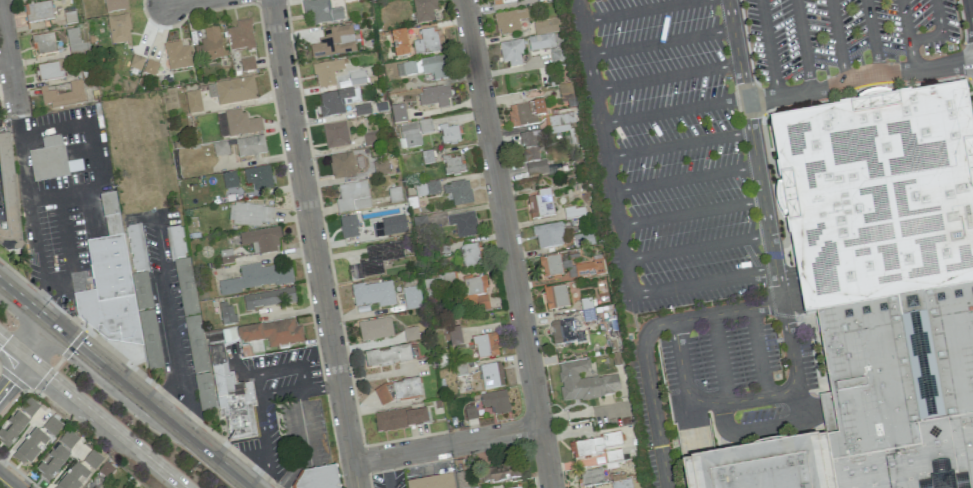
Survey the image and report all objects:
building: (342, 0)
road: (177, 2)
building: (502, 2)
building: (114, 5)
road: (972, 5)
building: (424, 10)
building: (39, 11)
road: (640, 11)
building: (321, 12)
building: (509, 20)
road: (905, 20)
building: (546, 26)
building: (119, 29)
road: (941, 33)
parking lot: (844, 35)
road: (872, 35)
building: (241, 36)
road: (837, 40)
building: (428, 41)
building: (75, 42)
building: (334, 42)
building: (540, 42)
road: (660, 42)
building: (400, 43)
building: (44, 44)
building: (209, 45)
road: (802, 45)
road: (769, 48)
building: (511, 52)
building: (177, 56)
road: (912, 56)
road: (9, 58)
building: (558, 59)
building: (136, 62)
building: (247, 64)
building: (424, 67)
building: (150, 68)
building: (49, 71)
building: (327, 72)
road: (857, 75)
road: (667, 76)
building: (356, 77)
building: (235, 90)
building: (63, 96)
building: (434, 96)
building: (336, 101)
building: (193, 102)
road: (673, 111)
building: (398, 113)
building: (525, 113)
building: (560, 122)
building: (237, 124)
building: (424, 125)
road: (55, 129)
building: (448, 134)
building: (335, 135)
building: (409, 136)
road: (678, 144)
building: (250, 146)
building: (220, 148)
road: (604, 148)
road: (753, 150)
road: (23, 154)
building: (531, 155)
road: (94, 156)
building: (52, 160)
building: (453, 164)
building: (342, 165)
building: (381, 167)
building: (258, 177)
road: (685, 178)
building: (229, 179)
building: (427, 188)
building: (458, 192)
road: (64, 194)
building: (394, 194)
building: (353, 197)
building: (8, 198)
building: (879, 198)
building: (540, 204)
road: (691, 213)
building: (249, 214)
road: (502, 214)
parking lot: (682, 215)
building: (420, 223)
building: (463, 224)
building: (389, 226)
building: (348, 227)
building: (548, 235)
building: (261, 239)
building: (176, 242)
road: (314, 244)
road: (697, 247)
building: (136, 248)
road: (68, 254)
building: (469, 255)
road: (39, 256)
building: (375, 259)
building: (549, 266)
building: (588, 268)
building: (257, 277)
road: (703, 283)
building: (110, 287)
building: (474, 292)
building: (374, 293)
building: (411, 297)
building: (555, 297)
building: (269, 298)
building: (587, 309)
building: (226, 313)
building: (147, 320)
road: (172, 321)
building: (375, 329)
building: (564, 332)
building: (229, 333)
building: (194, 334)
building: (270, 334)
building: (453, 336)
traffic signals: (6, 340)
road: (40, 341)
traffic signals: (72, 341)
road: (644, 341)
building: (485, 345)
road: (13, 346)
road: (758, 352)
building: (387, 356)
road: (720, 358)
road: (290, 368)
road: (13, 375)
traffic signals: (14, 375)
building: (491, 375)
building: (584, 382)
road: (126, 384)
road: (256, 385)
road: (322, 387)
road: (301, 390)
building: (398, 390)
road: (277, 391)
building: (902, 391)
building: (232, 398)
road: (745, 399)
building: (496, 401)
road: (187, 407)
building: (470, 413)
road: (261, 419)
building: (400, 419)
building: (18, 421)
road: (302, 421)
road: (106, 422)
road: (773, 425)
building: (52, 426)
building: (68, 439)
road: (446, 444)
building: (31, 447)
building: (592, 448)
building: (613, 455)
road: (546, 458)
building: (92, 459)
building: (52, 463)
road: (266, 465)
building: (765, 468)
road: (293, 470)
building: (498, 473)
building: (74, 477)
building: (591, 477)
building: (318, 478)
building: (621, 481)
building: (432, 482)
road: (5, 483)
building: (94, 487)
building: (518, 487)

